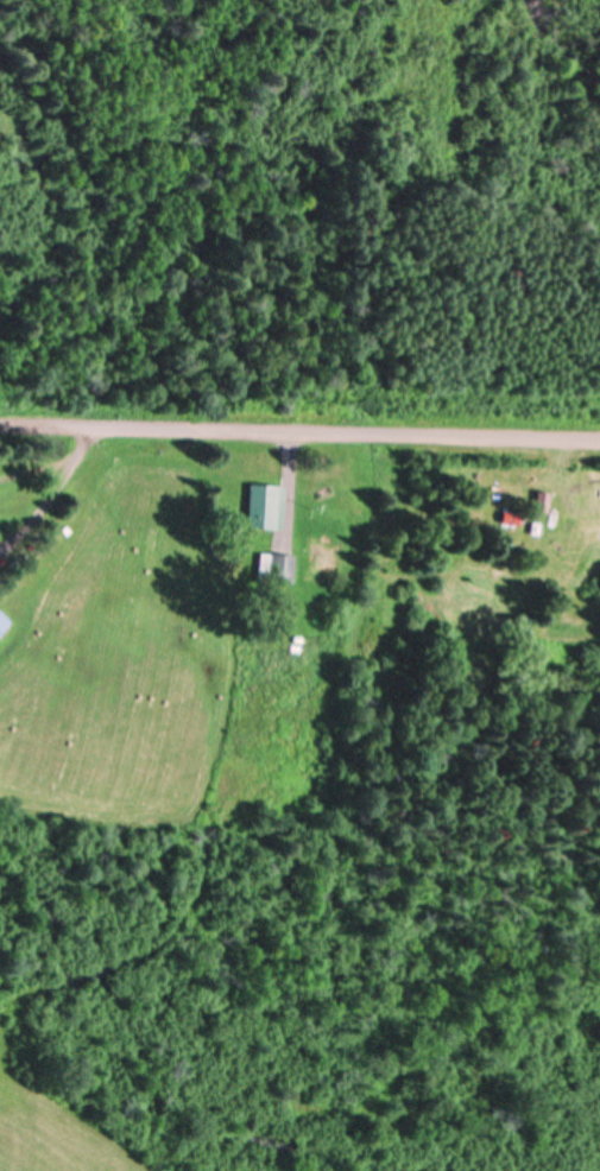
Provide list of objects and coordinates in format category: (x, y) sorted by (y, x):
road: (299, 413)
building: (543, 499)
building: (263, 505)
building: (278, 568)
building: (2, 620)

